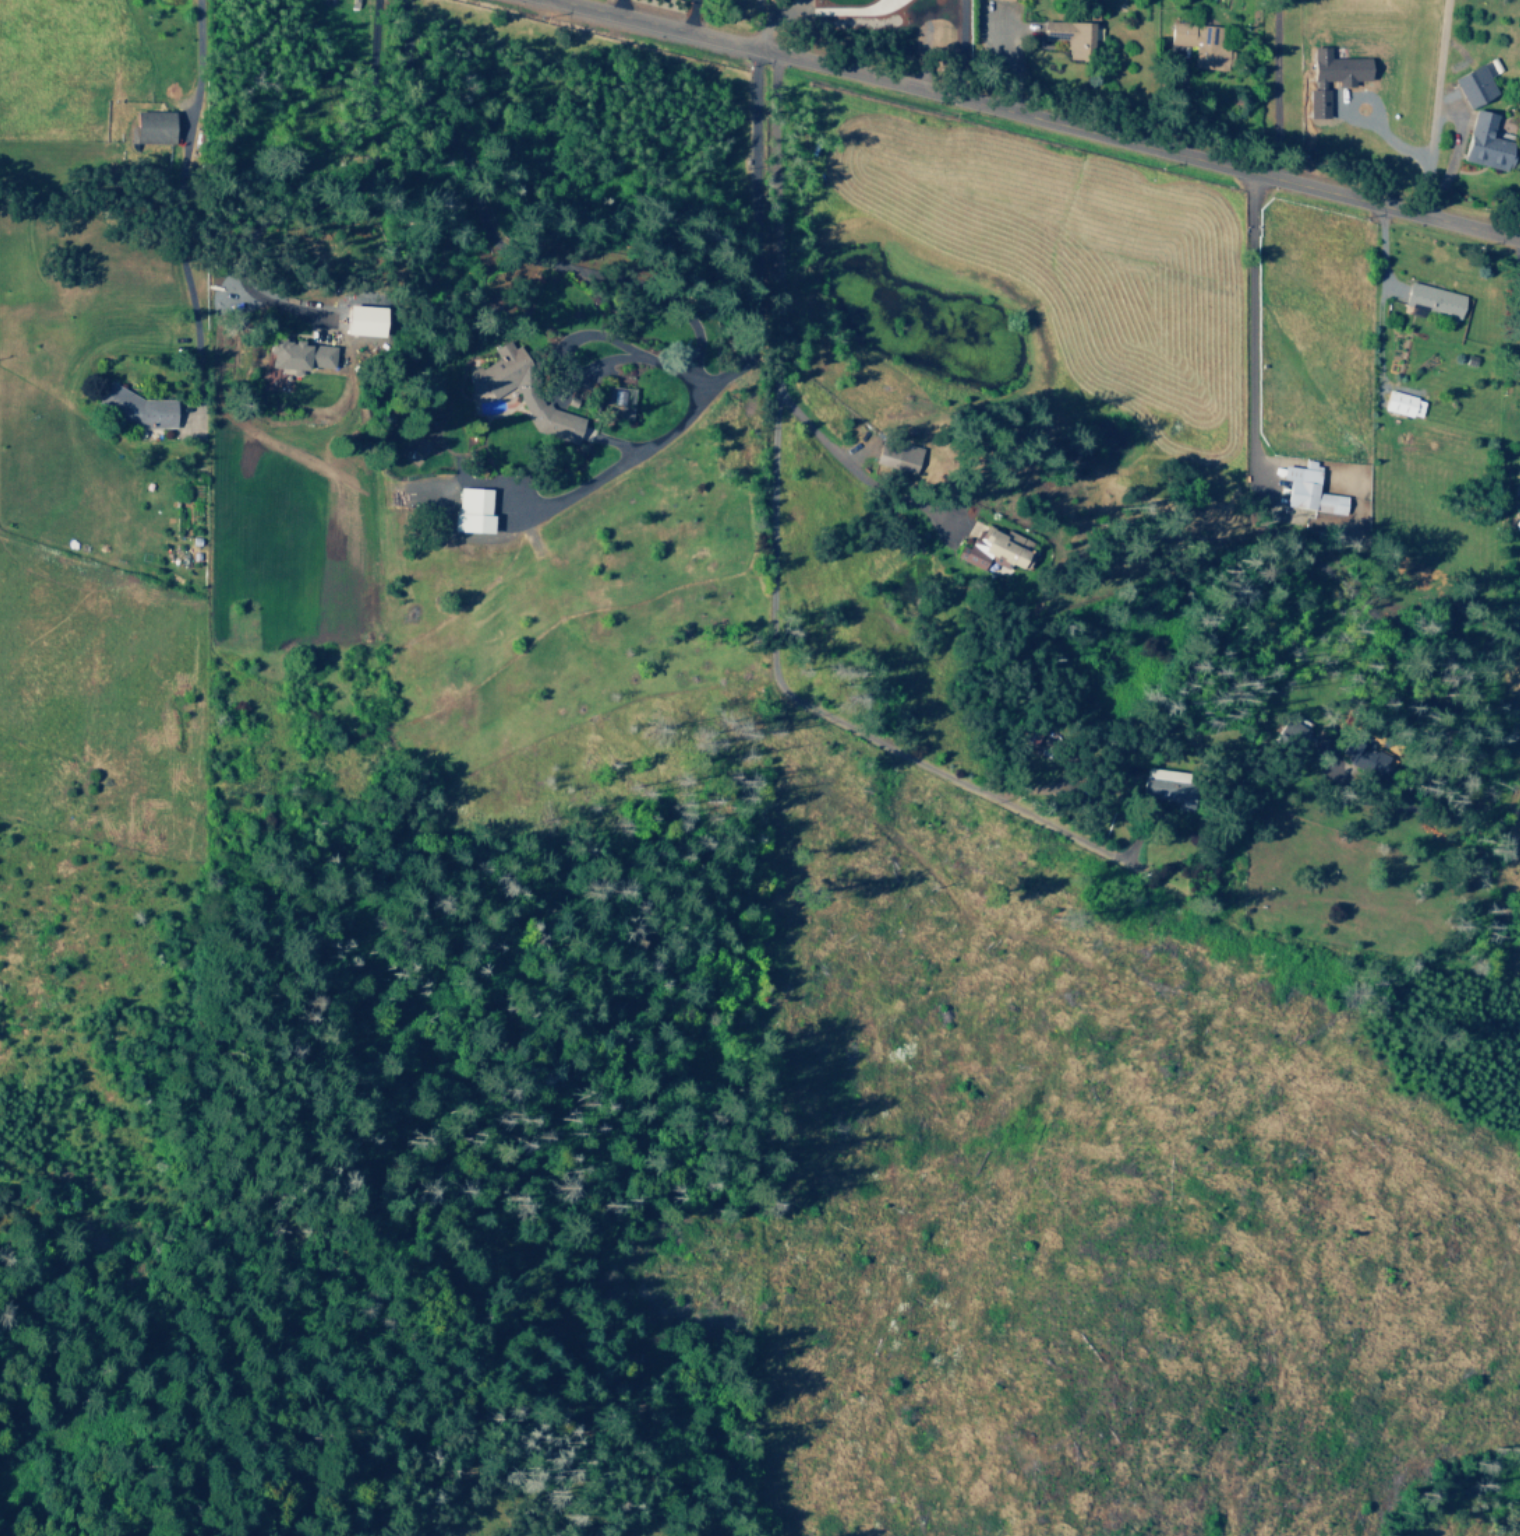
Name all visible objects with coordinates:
building: (1071, 36)
building: (1201, 44)
building: (1338, 68)
building: (1476, 84)
building: (1317, 102)
road: (1034, 120)
building: (152, 127)
building: (1487, 143)
road: (775, 289)
building: (1434, 300)
building: (365, 320)
road: (1248, 329)
building: (299, 355)
building: (521, 391)
building: (1403, 404)
building: (136, 406)
building: (896, 454)
building: (1309, 490)
building: (473, 510)
building: (1362, 760)
building: (1167, 787)

